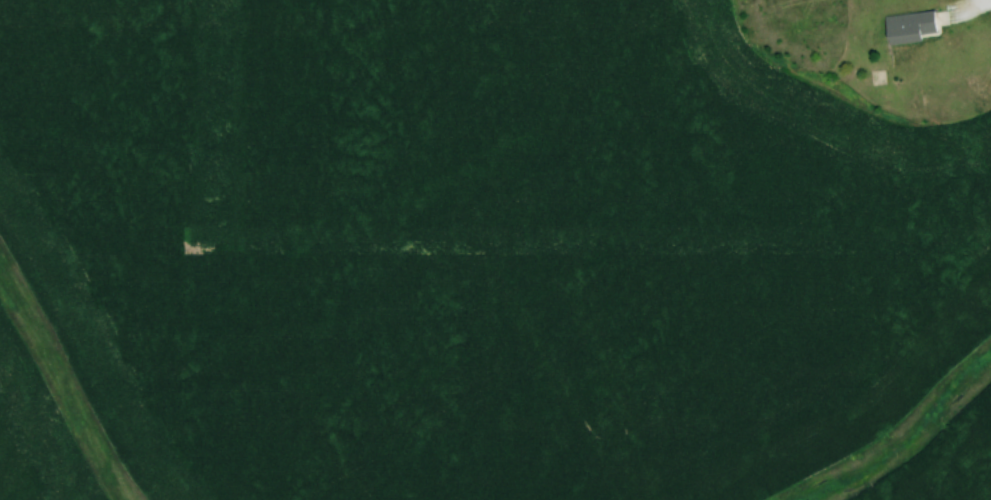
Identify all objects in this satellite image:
road: (972, 8)
building: (911, 27)

